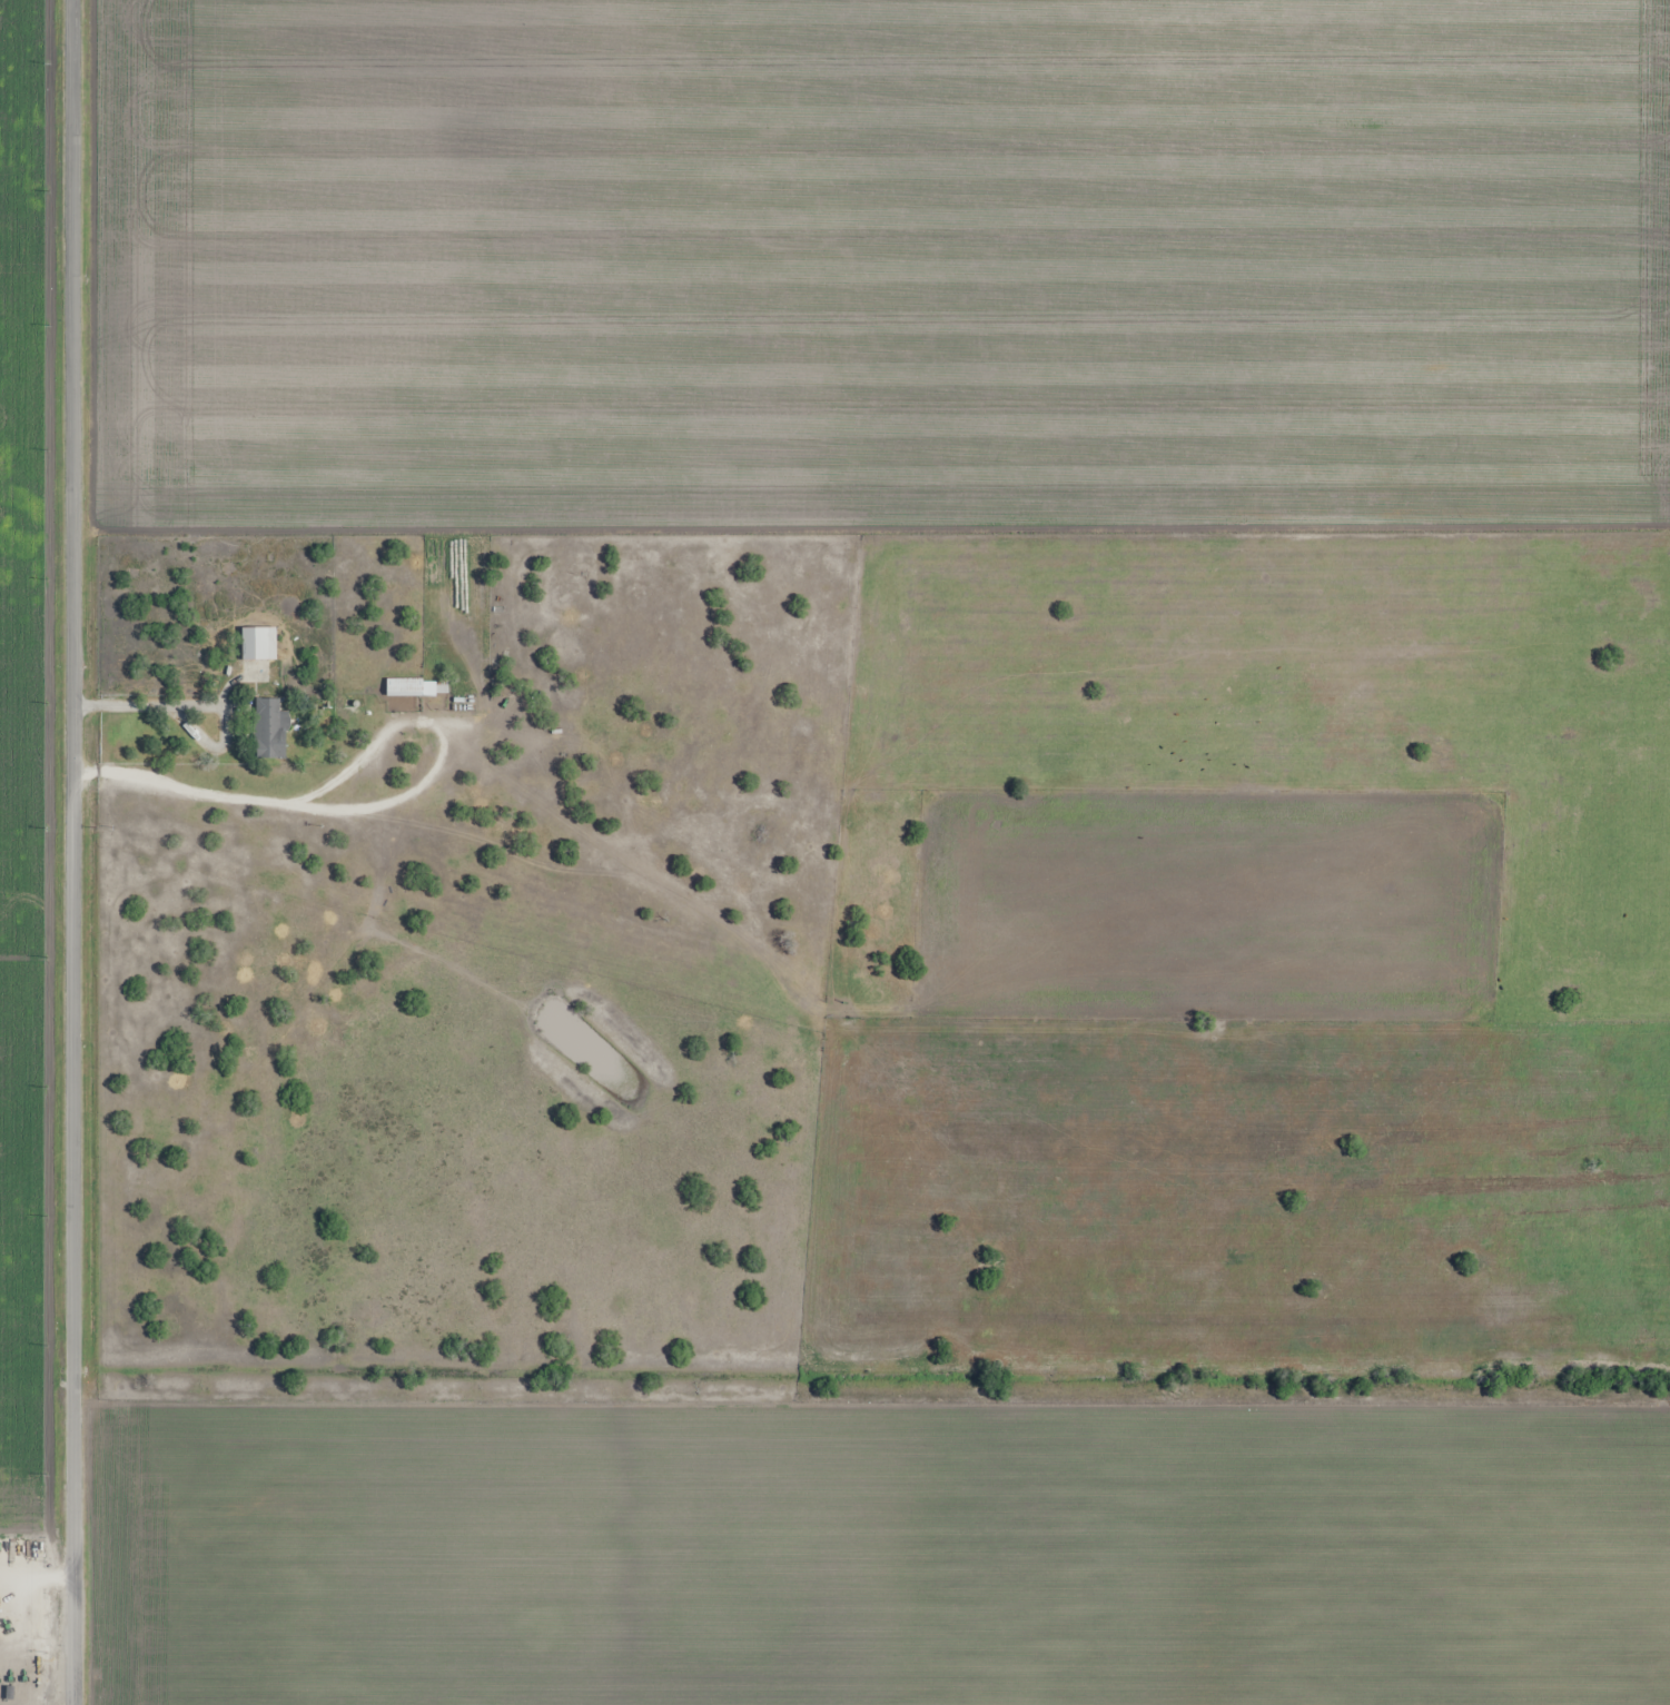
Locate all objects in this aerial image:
building: (259, 644)
building: (417, 688)
building: (270, 731)
road: (73, 852)

